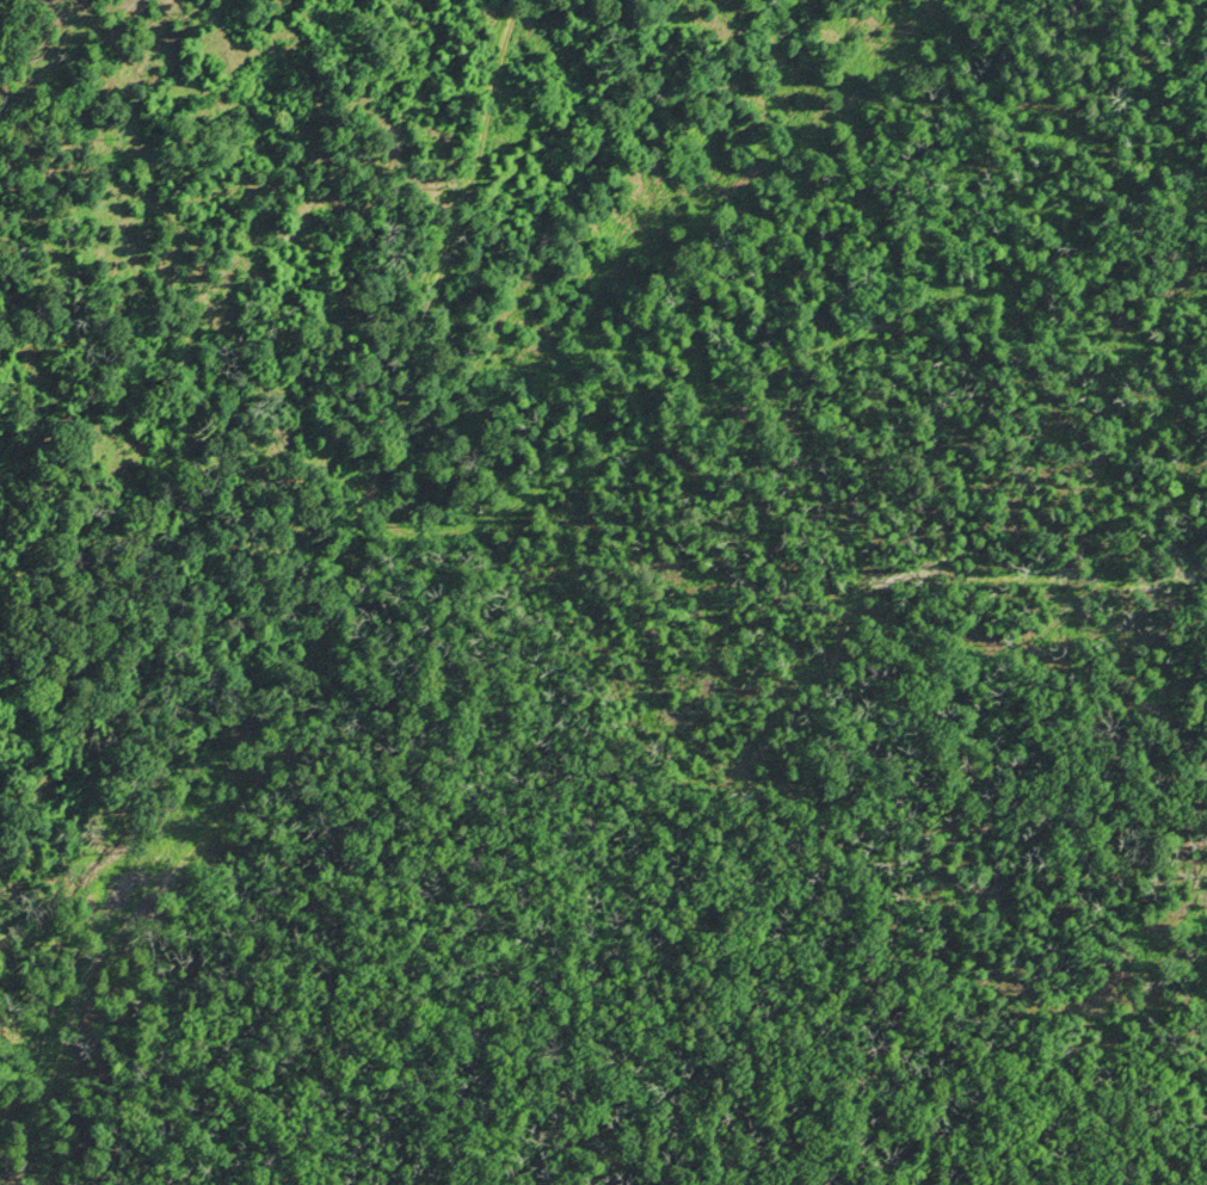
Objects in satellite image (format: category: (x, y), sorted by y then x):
road: (566, 490)

